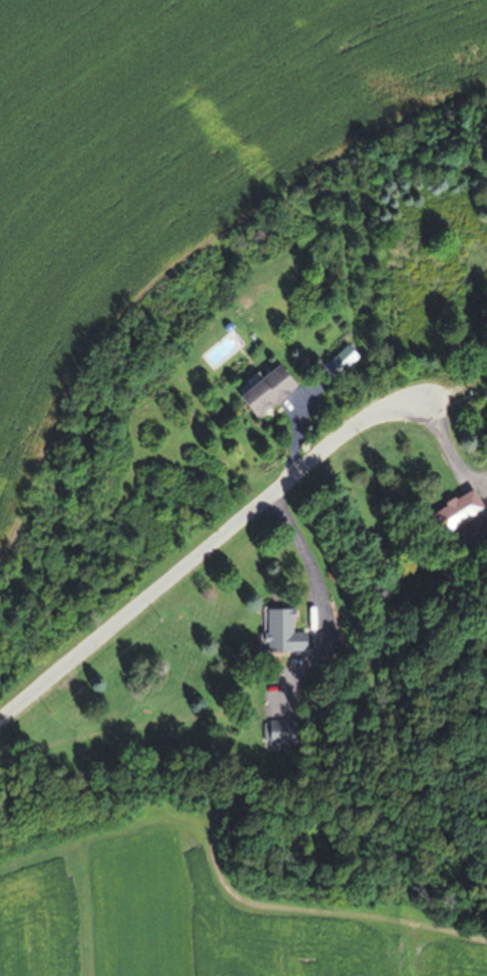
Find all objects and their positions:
building: (262, 393)
building: (480, 512)
road: (206, 548)
building: (280, 628)

